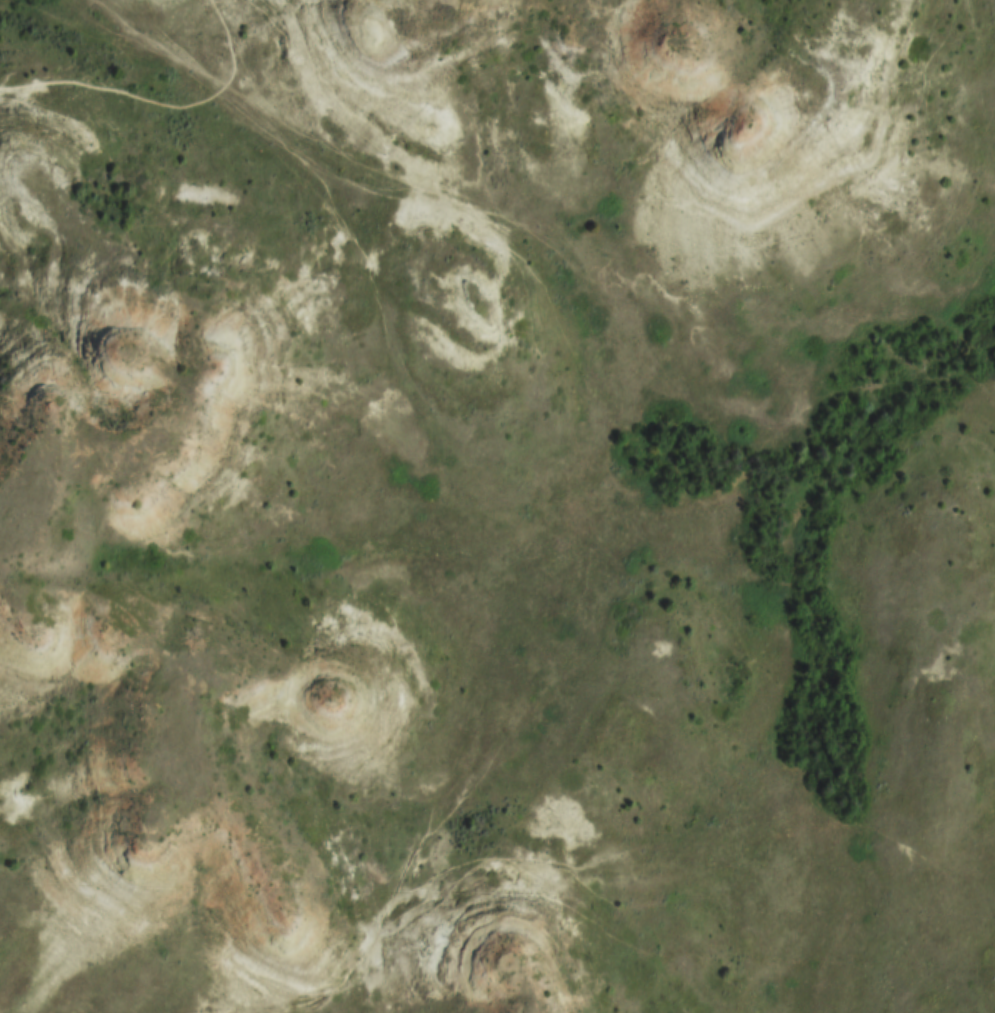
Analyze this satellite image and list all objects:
road: (160, 104)

